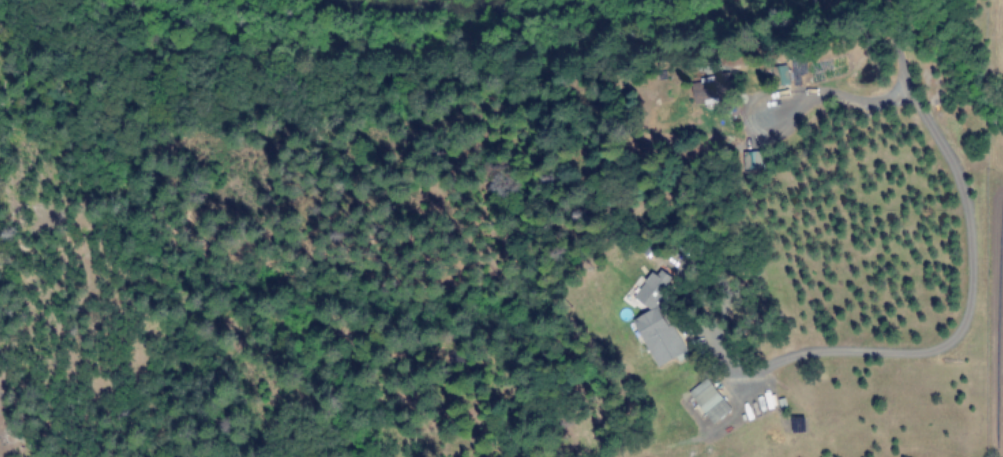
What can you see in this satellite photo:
building: (778, 74)
road: (895, 85)
building: (709, 87)
road: (751, 122)
building: (751, 160)
road: (965, 309)
building: (653, 319)
building: (710, 403)

